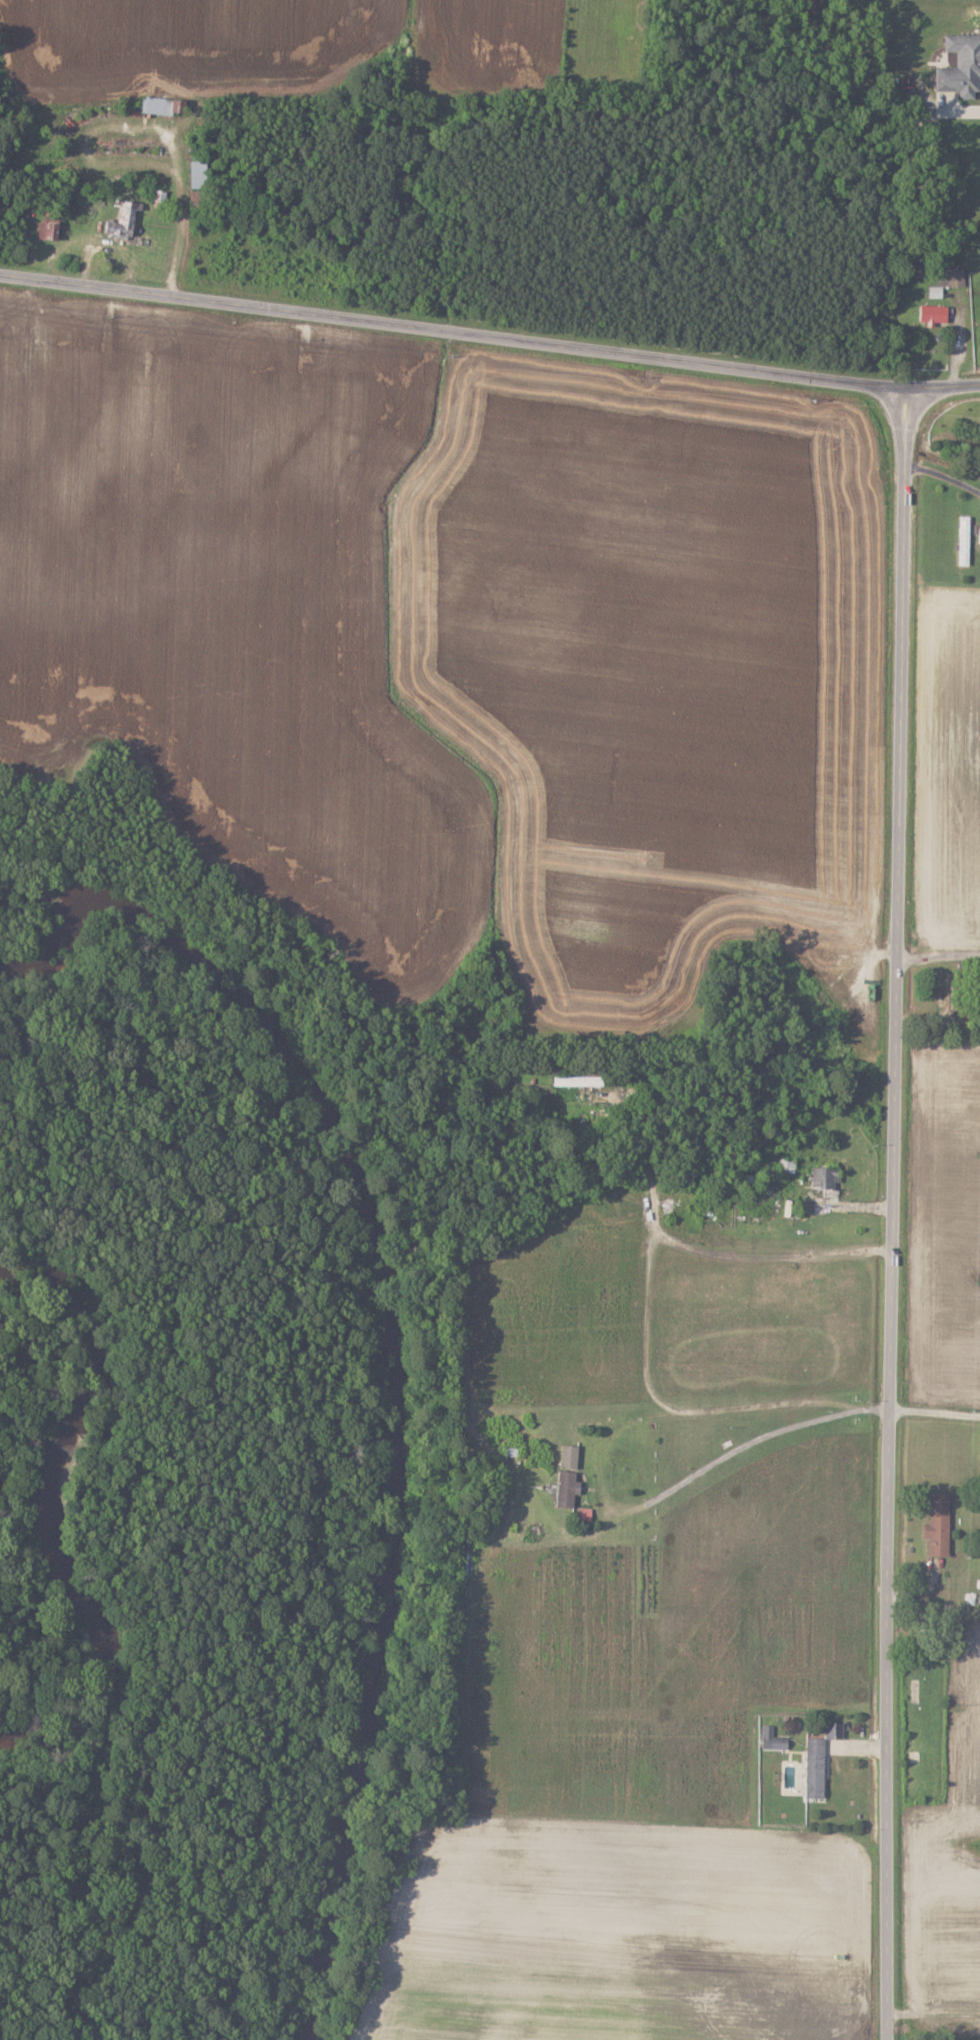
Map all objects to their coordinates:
building: (962, 66)
building: (162, 106)
building: (200, 175)
building: (122, 222)
building: (48, 231)
building: (952, 279)
building: (934, 315)
road: (489, 335)
road: (944, 475)
building: (963, 541)
road: (939, 956)
building: (950, 992)
building: (578, 1081)
building: (744, 1142)
building: (786, 1166)
building: (826, 1178)
road: (893, 1212)
river: (400, 1346)
road: (934, 1409)
road: (760, 1437)
building: (570, 1457)
building: (567, 1489)
river: (56, 1522)
building: (939, 1524)
building: (835, 1730)
building: (816, 1768)
road: (932, 2011)

